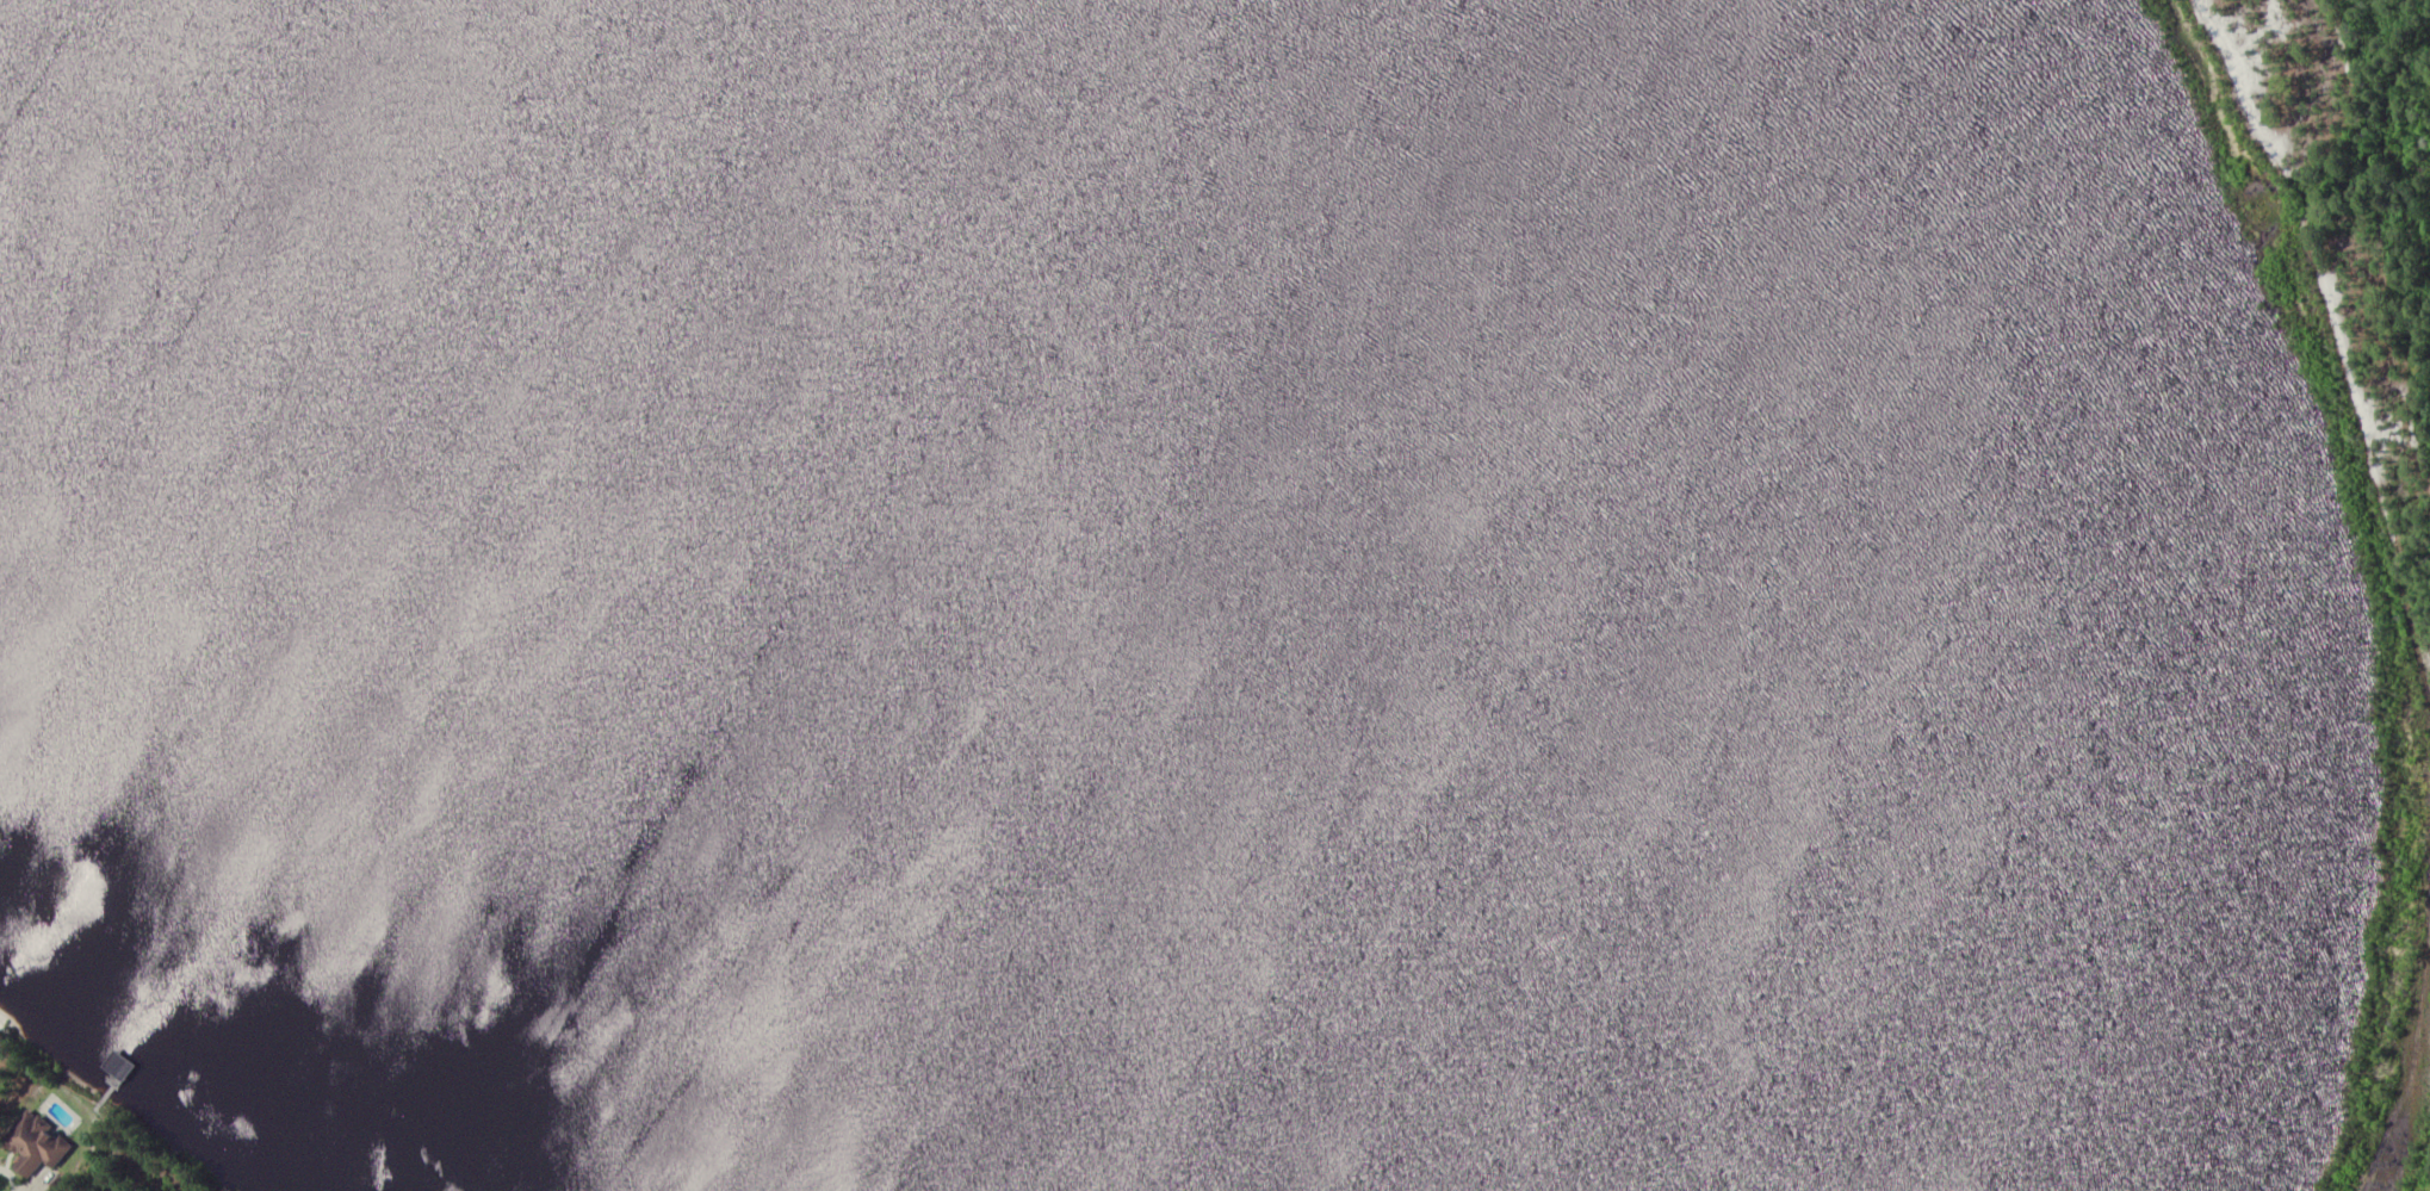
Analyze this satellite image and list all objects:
building: (36, 1146)

